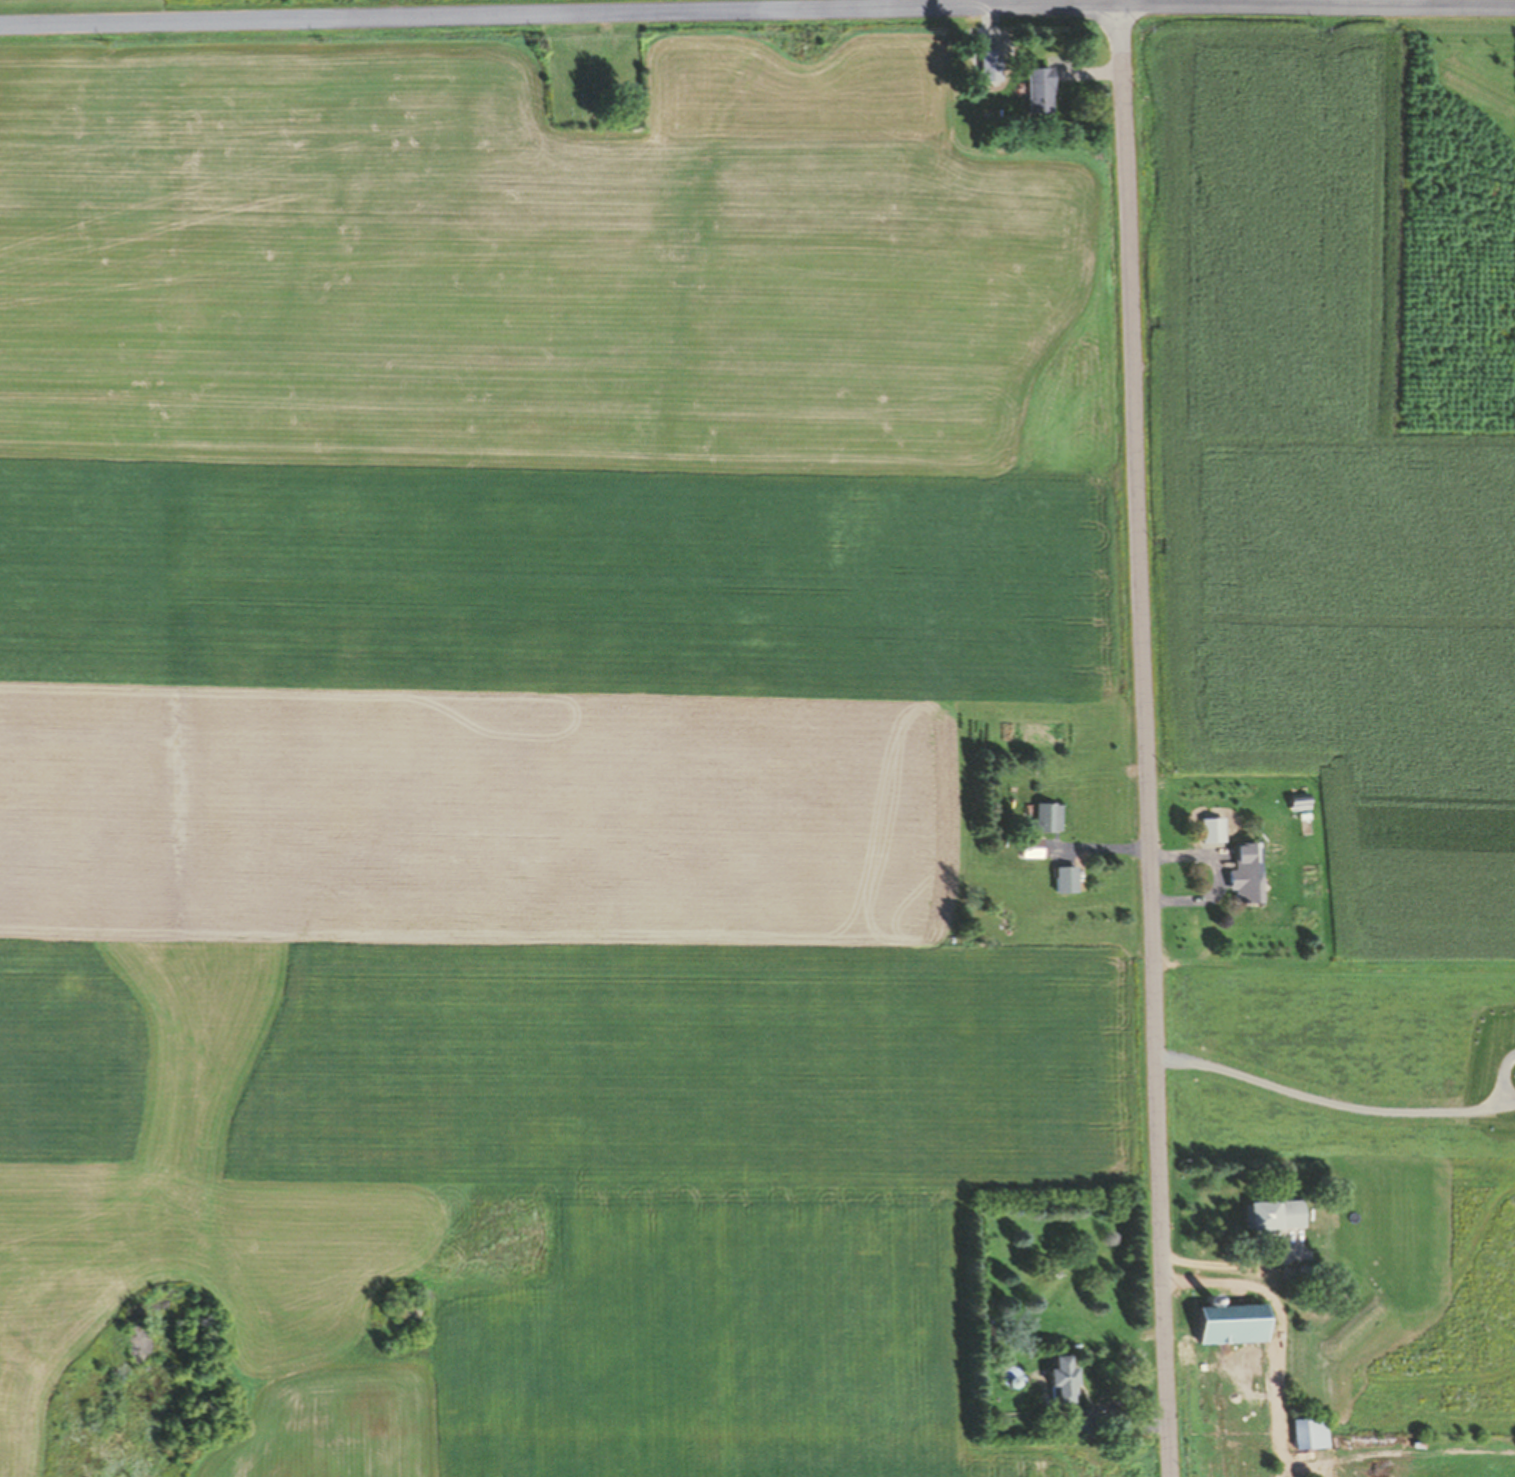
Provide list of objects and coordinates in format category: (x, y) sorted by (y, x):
road: (1119, 1)
road: (757, 8)
building: (995, 44)
building: (1039, 89)
road: (1143, 740)
building: (1046, 818)
building: (1029, 848)
building: (1244, 874)
building: (1064, 880)
building: (1274, 1215)
building: (1231, 1324)
building: (1061, 1381)
building: (1076, 1423)
building: (1308, 1434)

